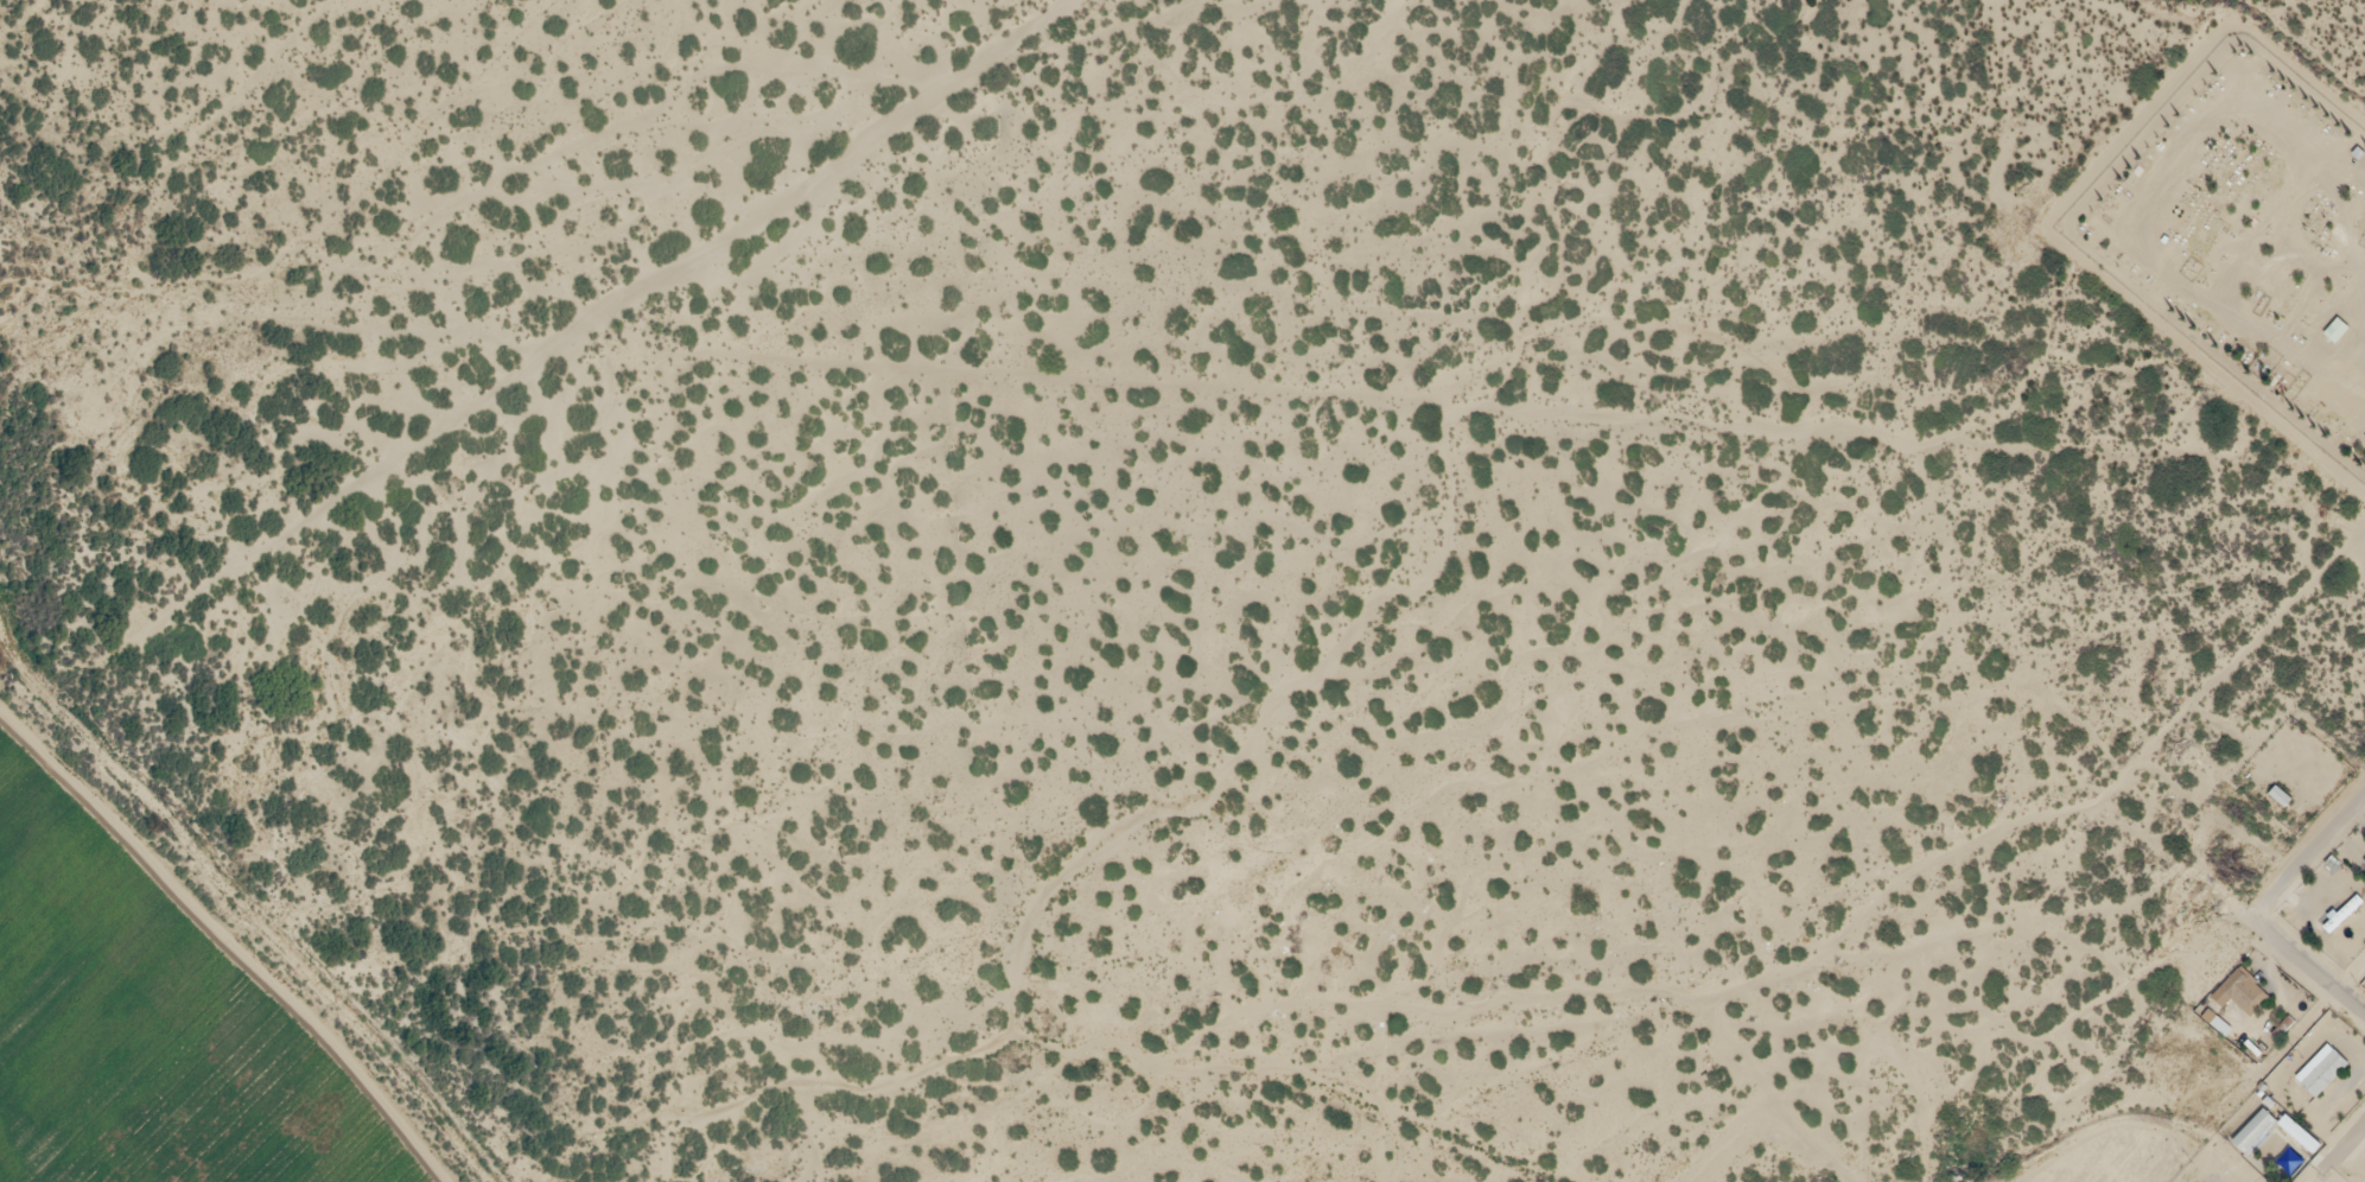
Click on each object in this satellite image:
park: (2249, 241)
building: (2338, 326)
building: (2282, 790)
road: (2306, 853)
road: (2306, 972)
road: (2351, 981)
building: (2243, 986)
building: (2322, 1068)
building: (2256, 1126)
road: (2350, 1148)
road: (1844, 1174)

